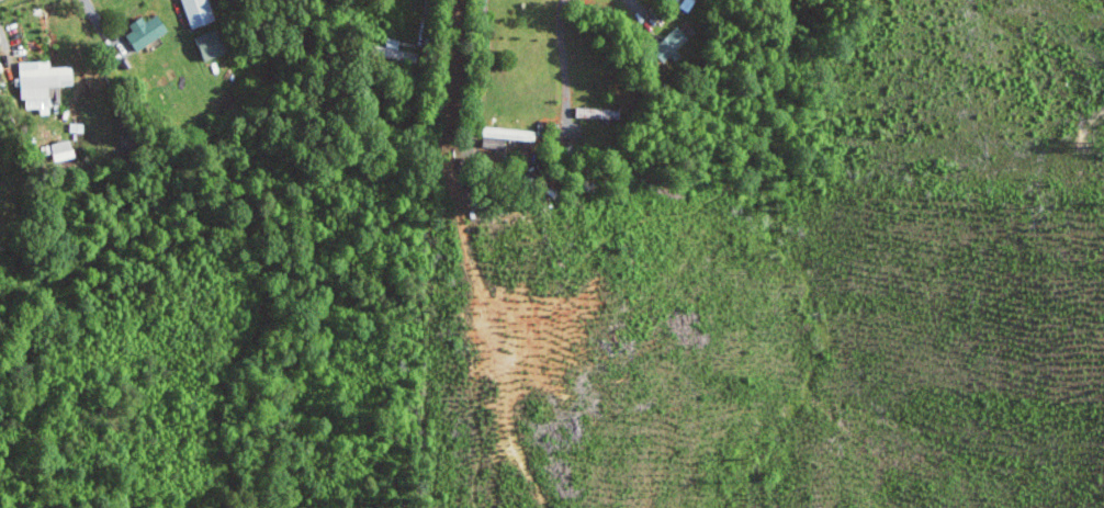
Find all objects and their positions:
building: (201, 12)
road: (420, 20)
building: (147, 31)
building: (673, 43)
building: (213, 44)
road: (484, 55)
road: (563, 55)
building: (44, 81)
building: (511, 133)
building: (64, 150)

